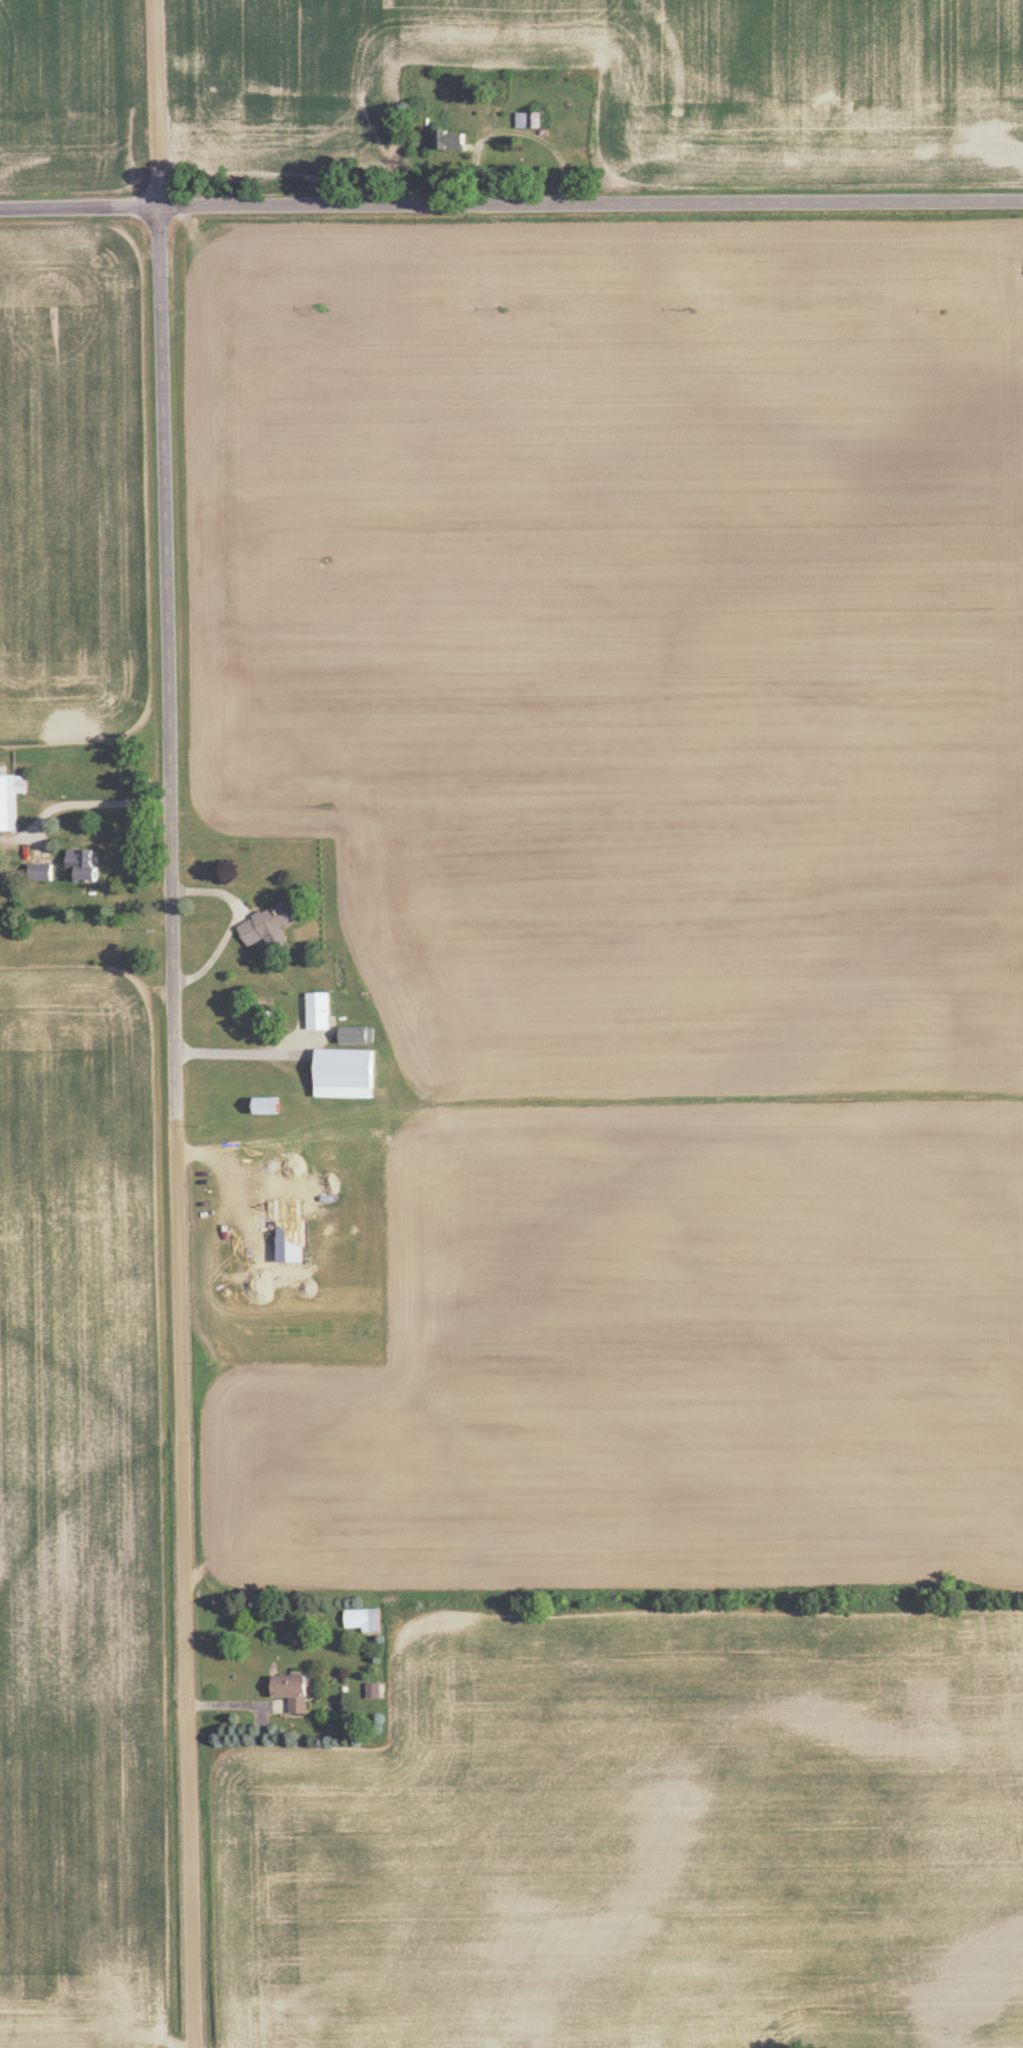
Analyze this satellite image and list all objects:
building: (528, 122)
building: (452, 142)
road: (511, 200)
road: (85, 803)
building: (8, 805)
building: (84, 868)
building: (42, 873)
building: (1, 875)
road: (228, 920)
building: (270, 927)
building: (321, 1012)
road: (173, 1023)
building: (360, 1036)
road: (248, 1054)
building: (347, 1074)
building: (270, 1106)
building: (365, 1620)
building: (374, 1691)
building: (294, 1692)

